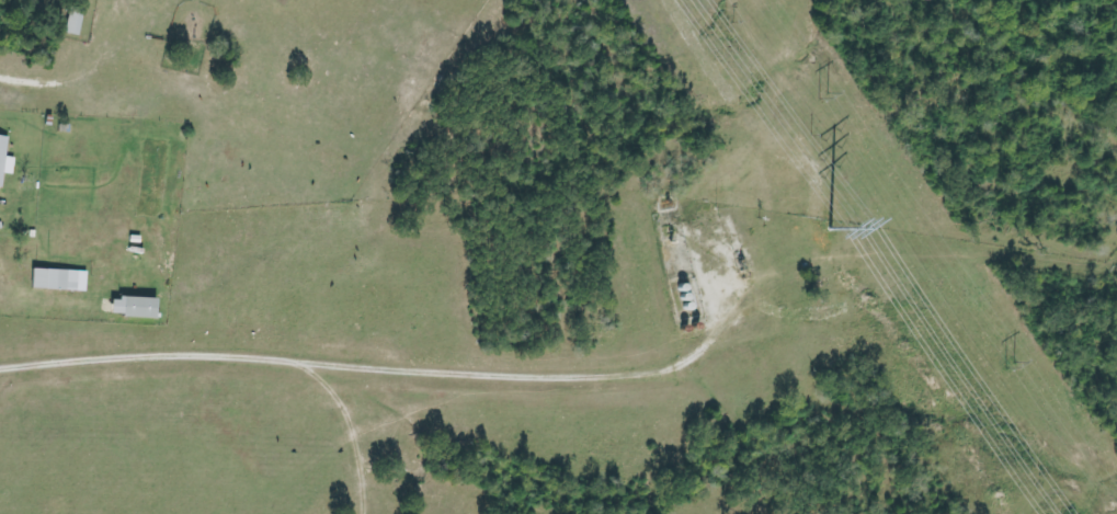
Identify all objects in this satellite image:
building: (72, 22)
power tower: (820, 94)
building: (4, 159)
power tower: (827, 221)
building: (58, 281)
building: (132, 308)
power tower: (1008, 368)

